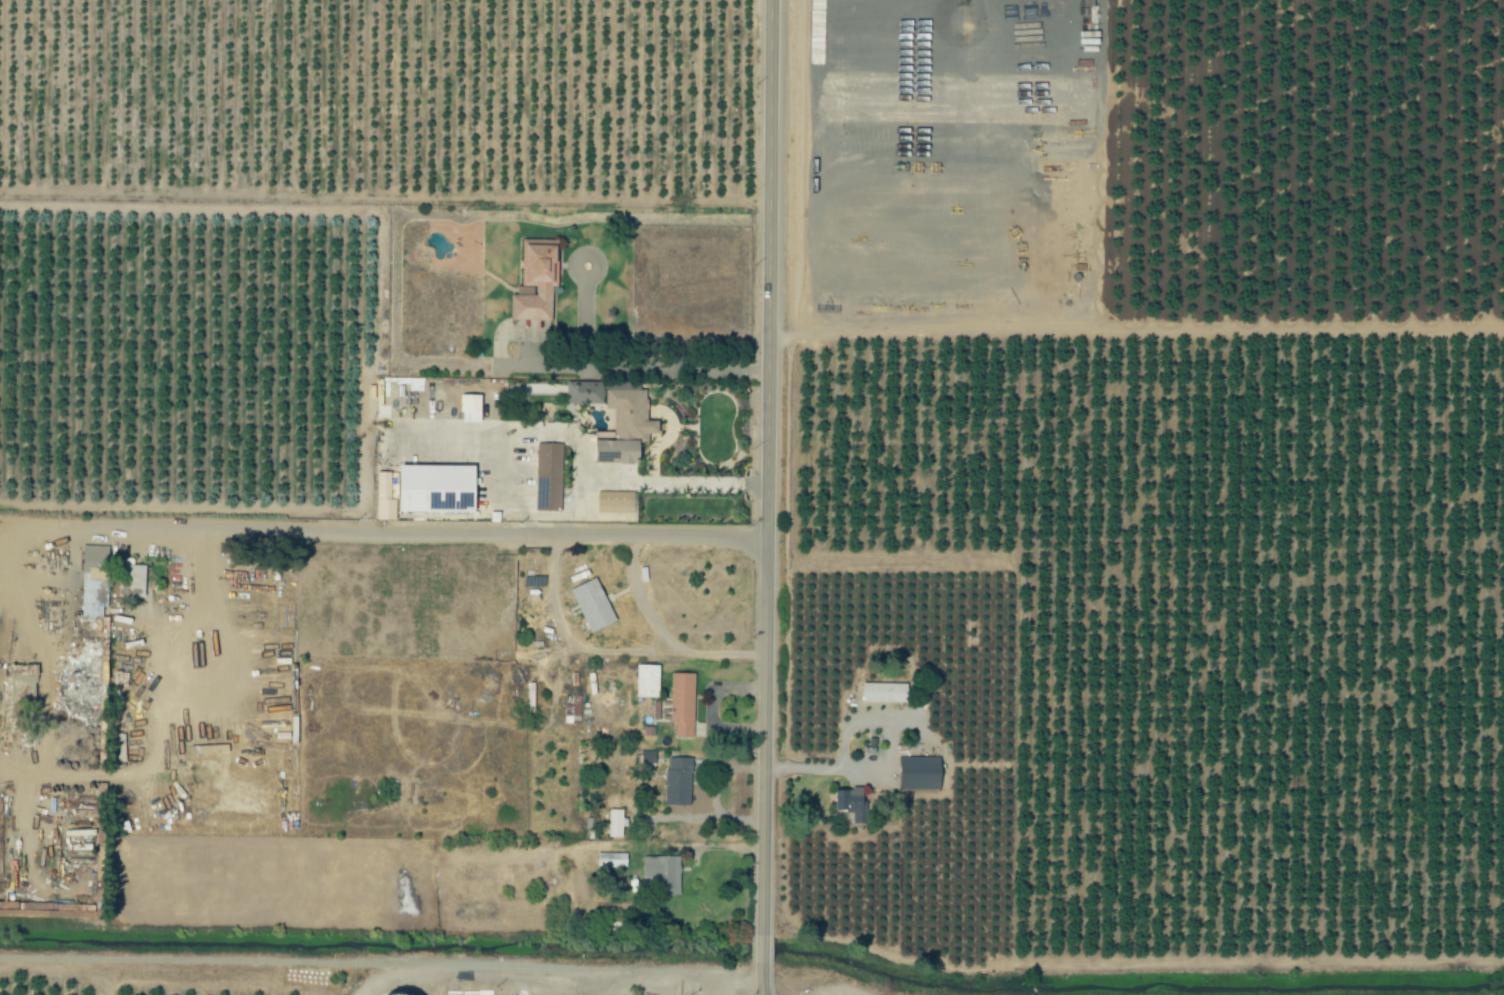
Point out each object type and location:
building: (536, 282)
road: (637, 369)
building: (585, 393)
building: (470, 408)
building: (625, 427)
road: (773, 467)
building: (549, 476)
road: (712, 486)
building: (435, 487)
building: (384, 498)
road: (402, 532)
building: (44, 571)
building: (95, 579)
building: (133, 581)
road: (643, 603)
building: (592, 605)
road: (614, 653)
building: (648, 681)
building: (884, 693)
building: (683, 704)
building: (573, 710)
road: (884, 760)
building: (919, 773)
building: (679, 781)
building: (851, 803)
building: (617, 823)
building: (612, 860)
building: (663, 875)
road: (770, 952)
road: (769, 982)
building: (382, 993)

